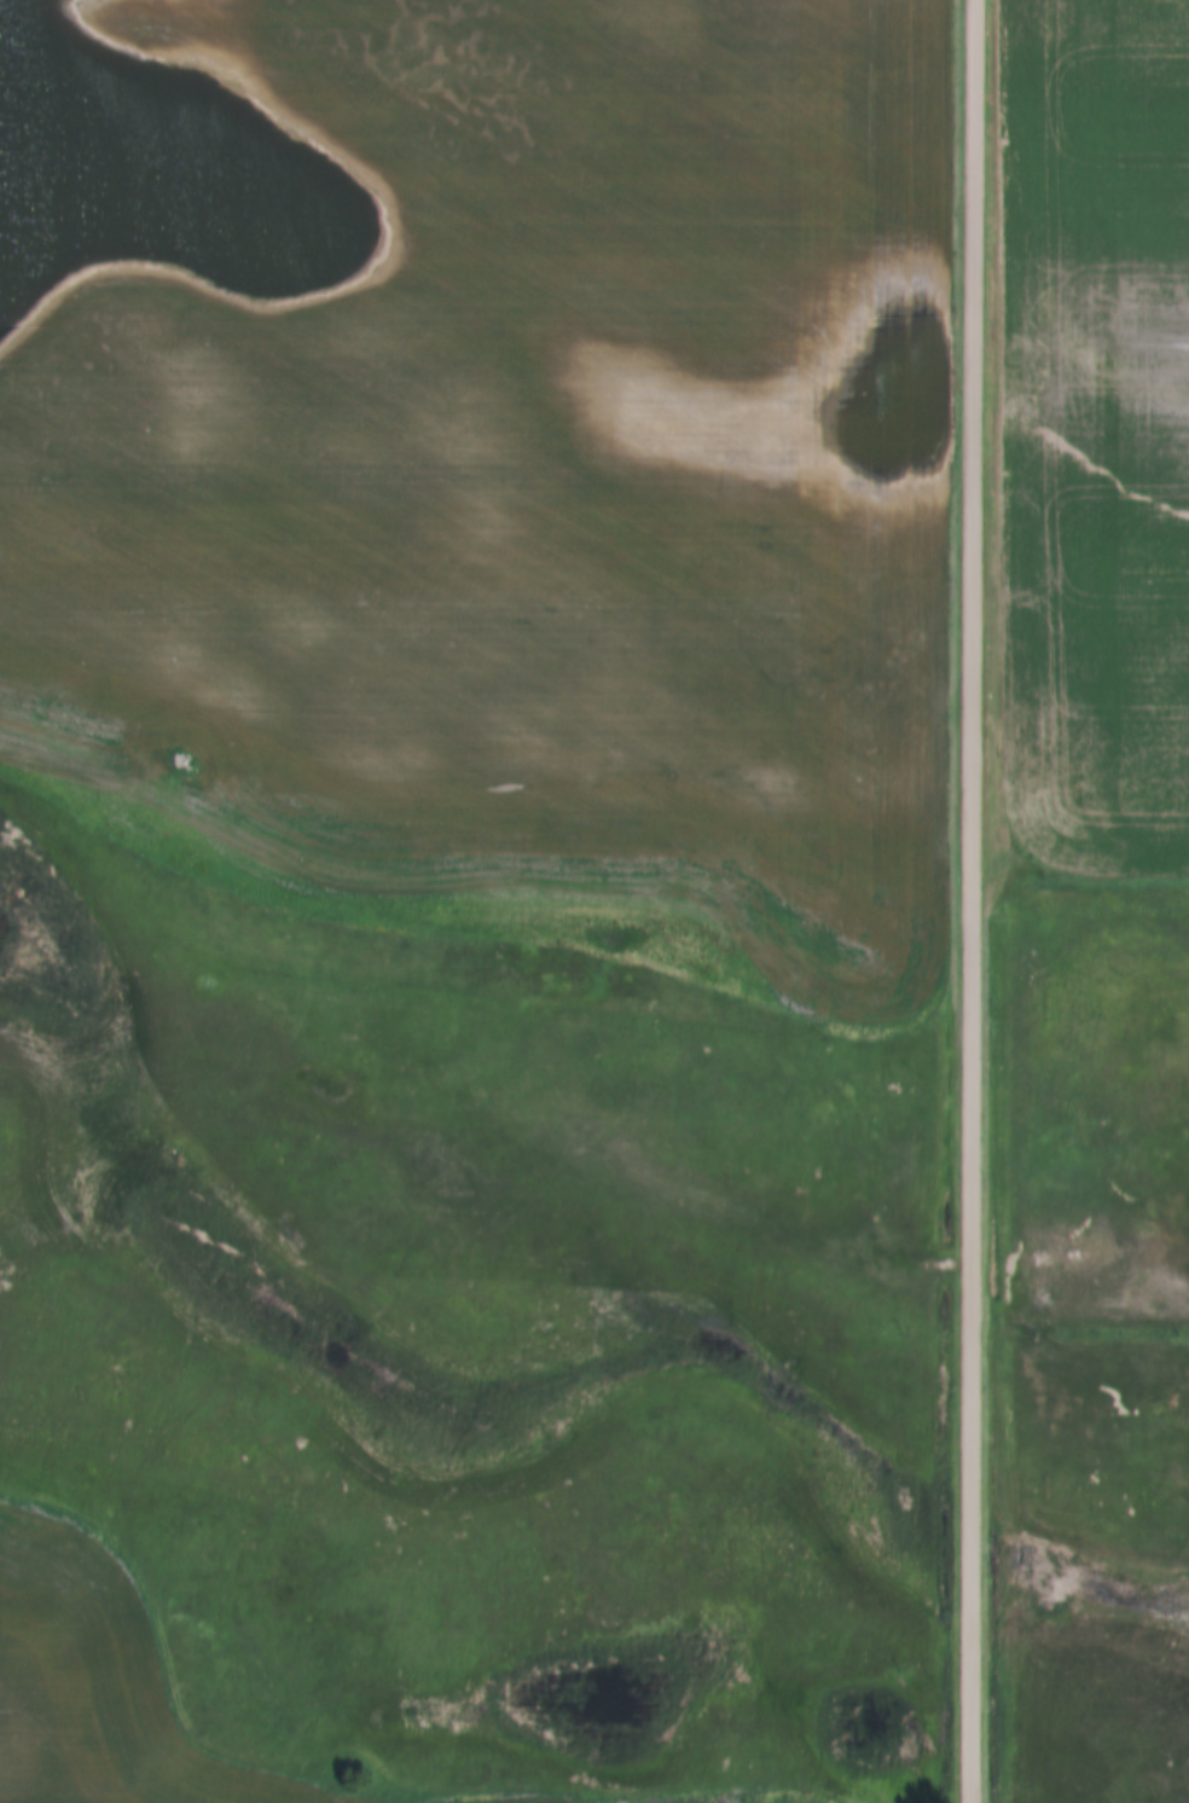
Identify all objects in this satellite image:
road: (973, 902)

